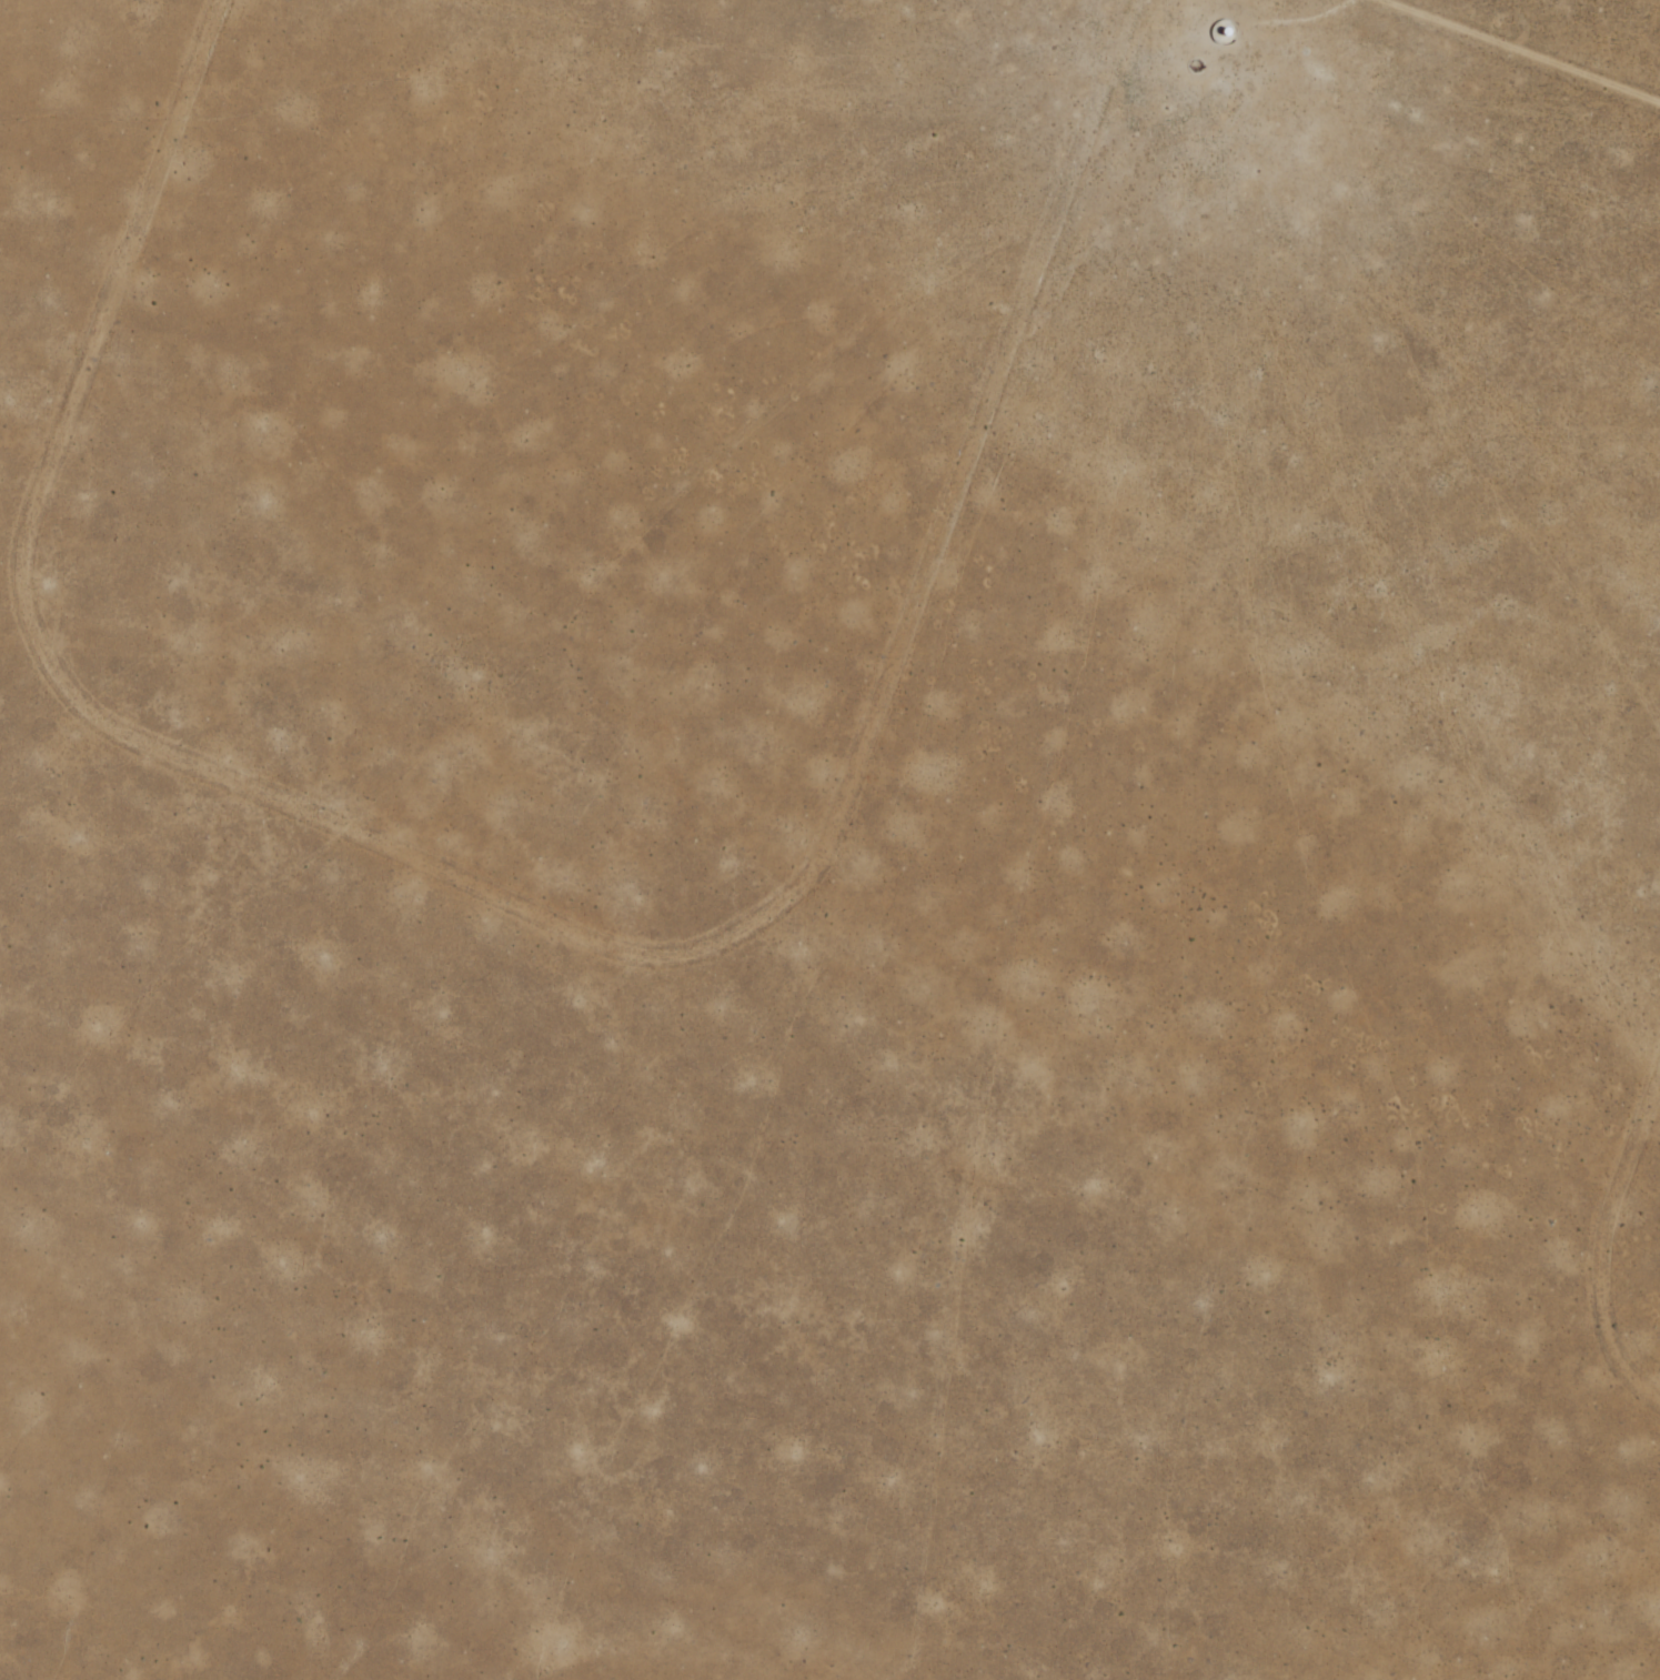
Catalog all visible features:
road: (1519, 52)

